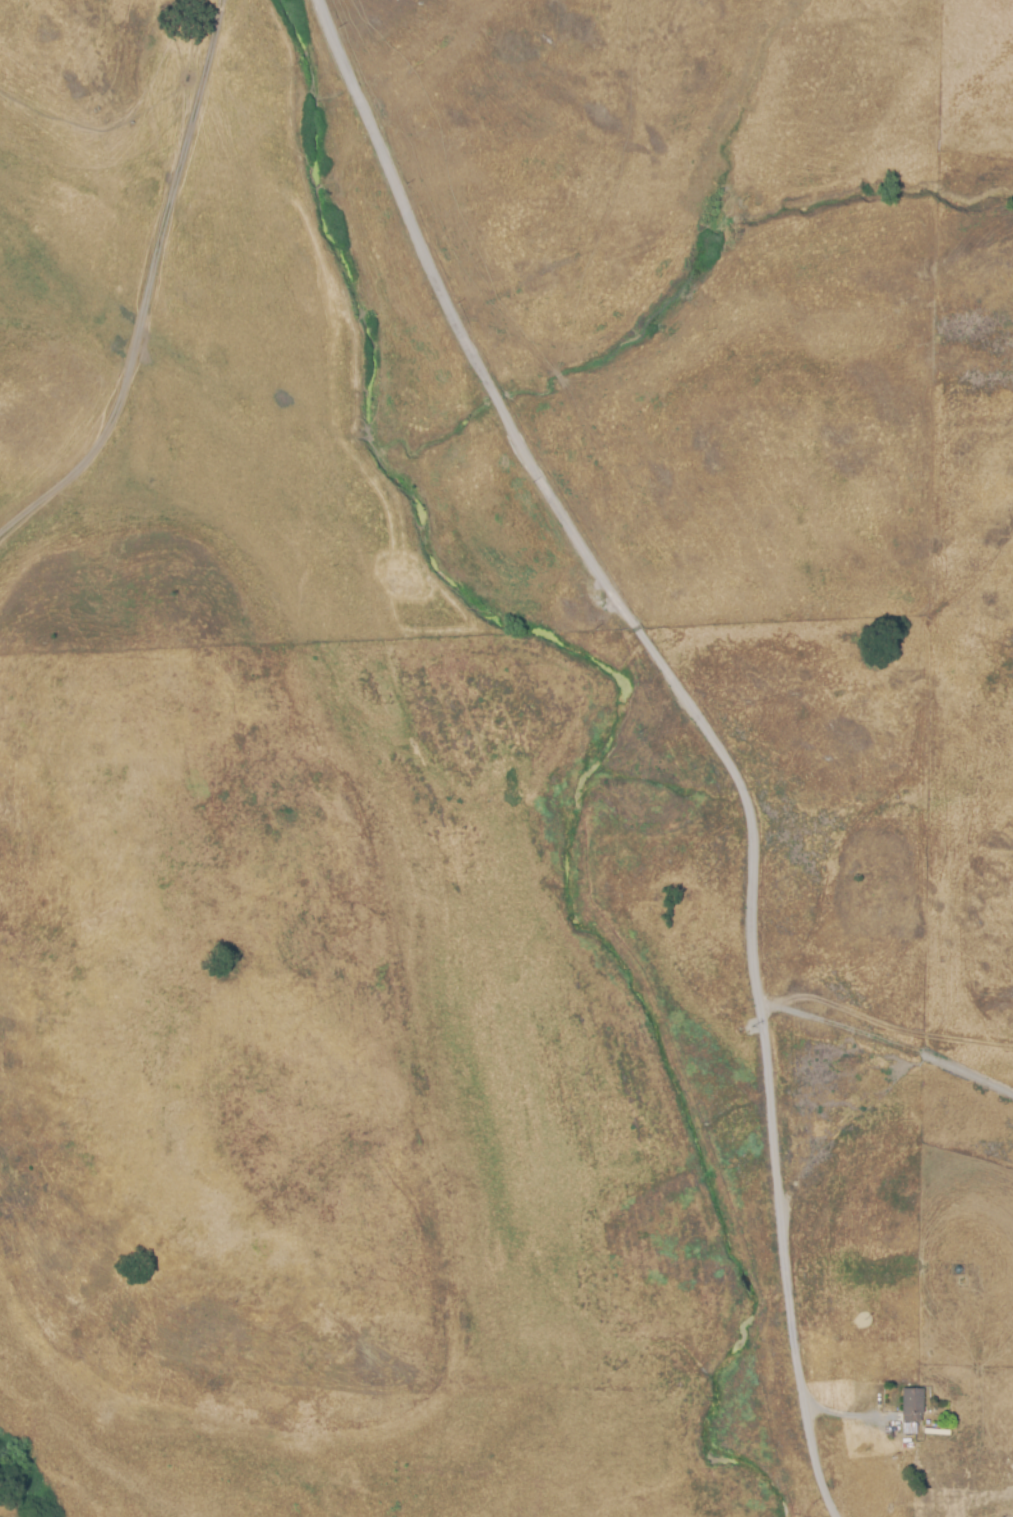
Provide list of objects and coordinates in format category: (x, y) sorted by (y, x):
road: (718, 722)
road: (894, 1044)
building: (913, 1403)

